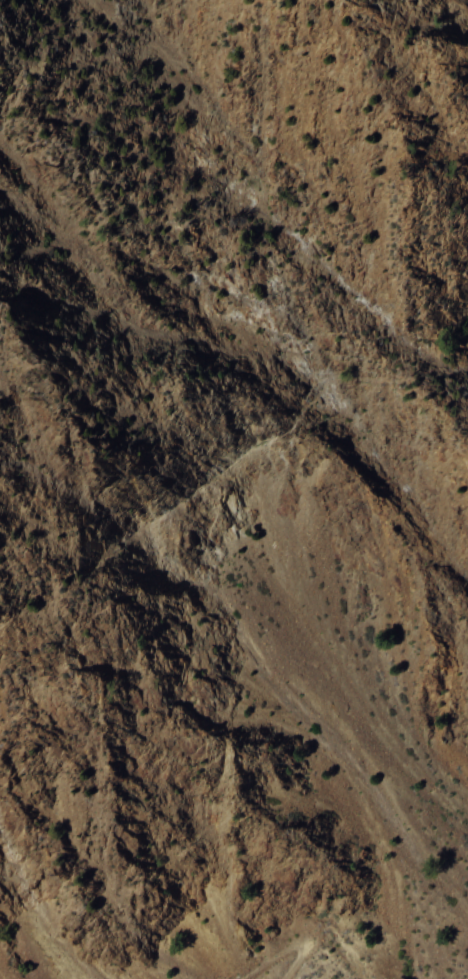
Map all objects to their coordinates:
road: (286, 947)

